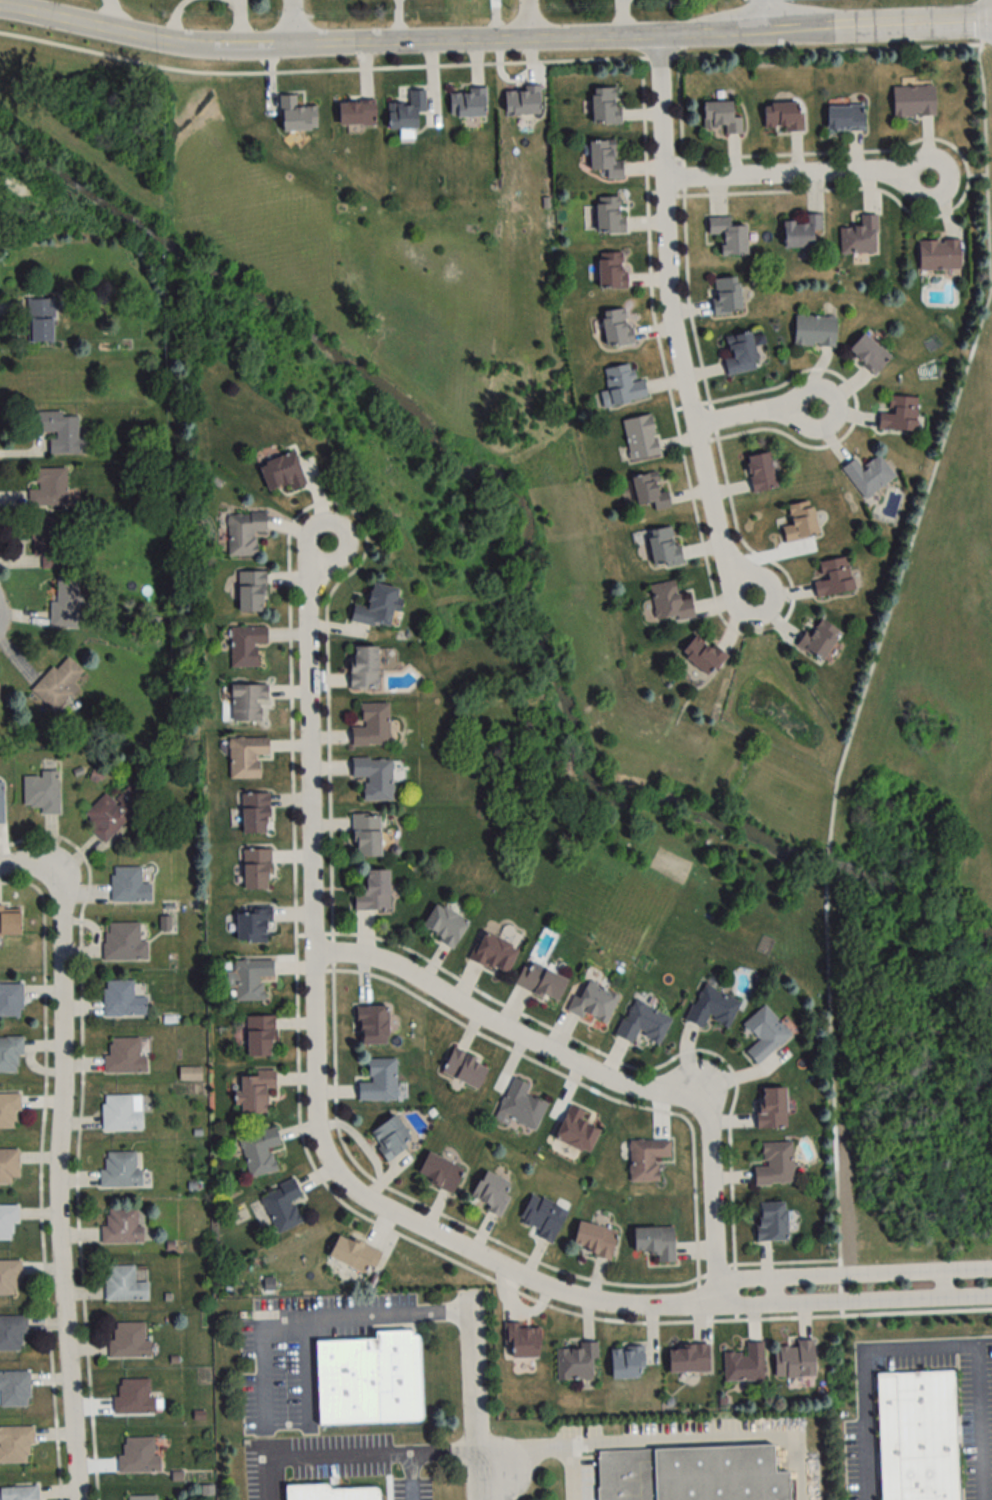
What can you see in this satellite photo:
road: (114, 13)
road: (759, 17)
road: (523, 20)
road: (288, 23)
road: (494, 41)
building: (521, 101)
building: (912, 101)
building: (467, 103)
building: (604, 106)
building: (405, 111)
building: (355, 113)
building: (295, 115)
building: (721, 117)
building: (782, 117)
building: (844, 117)
building: (604, 159)
road: (791, 176)
building: (608, 215)
building: (800, 231)
building: (728, 235)
building: (859, 236)
building: (937, 254)
building: (610, 271)
building: (726, 295)
building: (40, 321)
road: (672, 326)
building: (615, 327)
building: (814, 331)
building: (739, 353)
building: (868, 353)
building: (621, 385)
road: (757, 414)
building: (899, 414)
building: (59, 432)
building: (639, 437)
building: (281, 472)
building: (760, 472)
building: (868, 475)
building: (49, 487)
building: (649, 491)
building: (799, 523)
building: (243, 532)
building: (48, 541)
building: (662, 546)
building: (833, 578)
building: (250, 592)
building: (668, 603)
building: (64, 604)
building: (375, 608)
building: (817, 639)
road: (877, 645)
building: (245, 646)
building: (702, 655)
building: (362, 668)
building: (58, 684)
building: (247, 703)
building: (371, 725)
building: (245, 756)
building: (374, 777)
building: (41, 792)
building: (111, 812)
building: (254, 813)
building: (365, 835)
building: (255, 869)
road: (29, 871)
building: (128, 886)
building: (372, 892)
building: (9, 923)
building: (443, 925)
building: (252, 926)
building: (125, 942)
building: (493, 954)
building: (250, 979)
building: (540, 982)
building: (121, 999)
building: (10, 1000)
building: (593, 1003)
building: (711, 1008)
building: (642, 1023)
building: (371, 1026)
building: (764, 1034)
building: (259, 1037)
building: (10, 1054)
building: (123, 1055)
building: (464, 1069)
road: (317, 1072)
road: (595, 1073)
building: (378, 1081)
building: (254, 1092)
building: (519, 1106)
building: (770, 1109)
building: (8, 1110)
building: (121, 1112)
building: (575, 1131)
building: (389, 1138)
building: (259, 1152)
building: (646, 1159)
building: (774, 1165)
building: (8, 1166)
building: (119, 1170)
building: (439, 1172)
road: (57, 1189)
building: (490, 1194)
building: (282, 1206)
building: (542, 1218)
building: (7, 1221)
building: (770, 1222)
building: (121, 1226)
building: (592, 1241)
building: (654, 1243)
building: (353, 1254)
building: (9, 1277)
building: (123, 1284)
road: (944, 1285)
road: (775, 1291)
road: (732, 1293)
road: (840, 1311)
road: (332, 1320)
building: (12, 1333)
building: (128, 1341)
building: (521, 1342)
road: (923, 1352)
road: (263, 1354)
building: (687, 1359)
building: (794, 1360)
building: (576, 1363)
building: (625, 1364)
building: (744, 1364)
building: (367, 1380)
building: (14, 1389)
road: (475, 1397)
building: (133, 1398)
building: (916, 1436)
road: (714, 1439)
building: (15, 1445)
road: (551, 1445)
road: (445, 1448)
road: (344, 1452)
building: (138, 1456)
building: (690, 1475)
building: (19, 1493)
building: (329, 1493)
building: (140, 1498)

